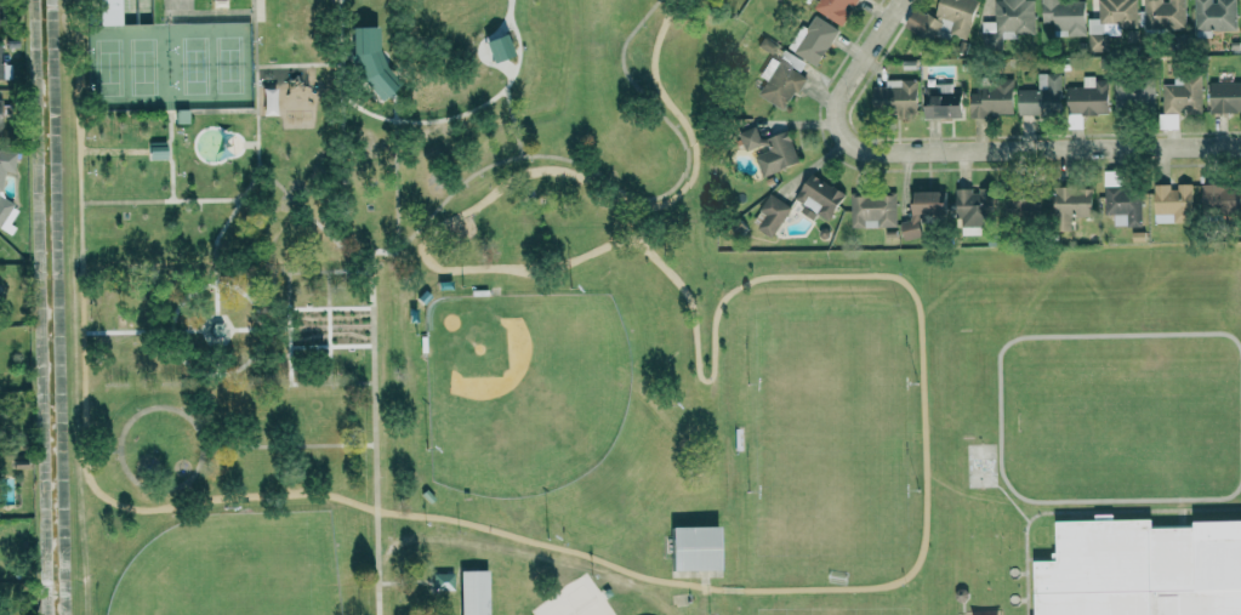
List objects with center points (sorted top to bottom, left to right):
building: (835, 8)
building: (109, 12)
building: (1163, 13)
building: (1214, 15)
building: (1063, 16)
building: (943, 19)
building: (1110, 19)
building: (1007, 22)
building: (813, 39)
building: (496, 47)
road: (502, 51)
building: (792, 59)
building: (370, 62)
park: (215, 64)
park: (130, 66)
road: (301, 66)
building: (779, 82)
building: (1134, 92)
road: (848, 93)
building: (1183, 95)
building: (895, 96)
building: (1225, 96)
building: (991, 97)
building: (1041, 97)
building: (1088, 97)
building: (268, 101)
building: (943, 102)
road: (512, 116)
road: (345, 124)
water park: (216, 131)
road: (519, 142)
road: (395, 149)
building: (769, 149)
park: (133, 153)
road: (1066, 155)
road: (257, 170)
road: (274, 182)
building: (0, 184)
road: (625, 192)
building: (818, 197)
building: (1220, 198)
building: (928, 201)
building: (1024, 203)
building: (1172, 203)
road: (297, 204)
road: (644, 204)
building: (1123, 204)
building: (1071, 205)
building: (973, 209)
building: (872, 210)
building: (770, 213)
building: (910, 228)
road: (326, 230)
road: (294, 271)
road: (330, 325)
road: (292, 326)
road: (295, 326)
park: (456, 326)
road: (922, 348)
road: (292, 363)
road: (332, 381)
road: (85, 389)
park: (524, 389)
road: (374, 432)
road: (199, 433)
road: (289, 445)
road: (104, 450)
building: (694, 548)
building: (1142, 569)
park: (246, 581)
road: (404, 581)
building: (442, 581)
building: (473, 592)
park: (831, 608)
building: (2, 613)

